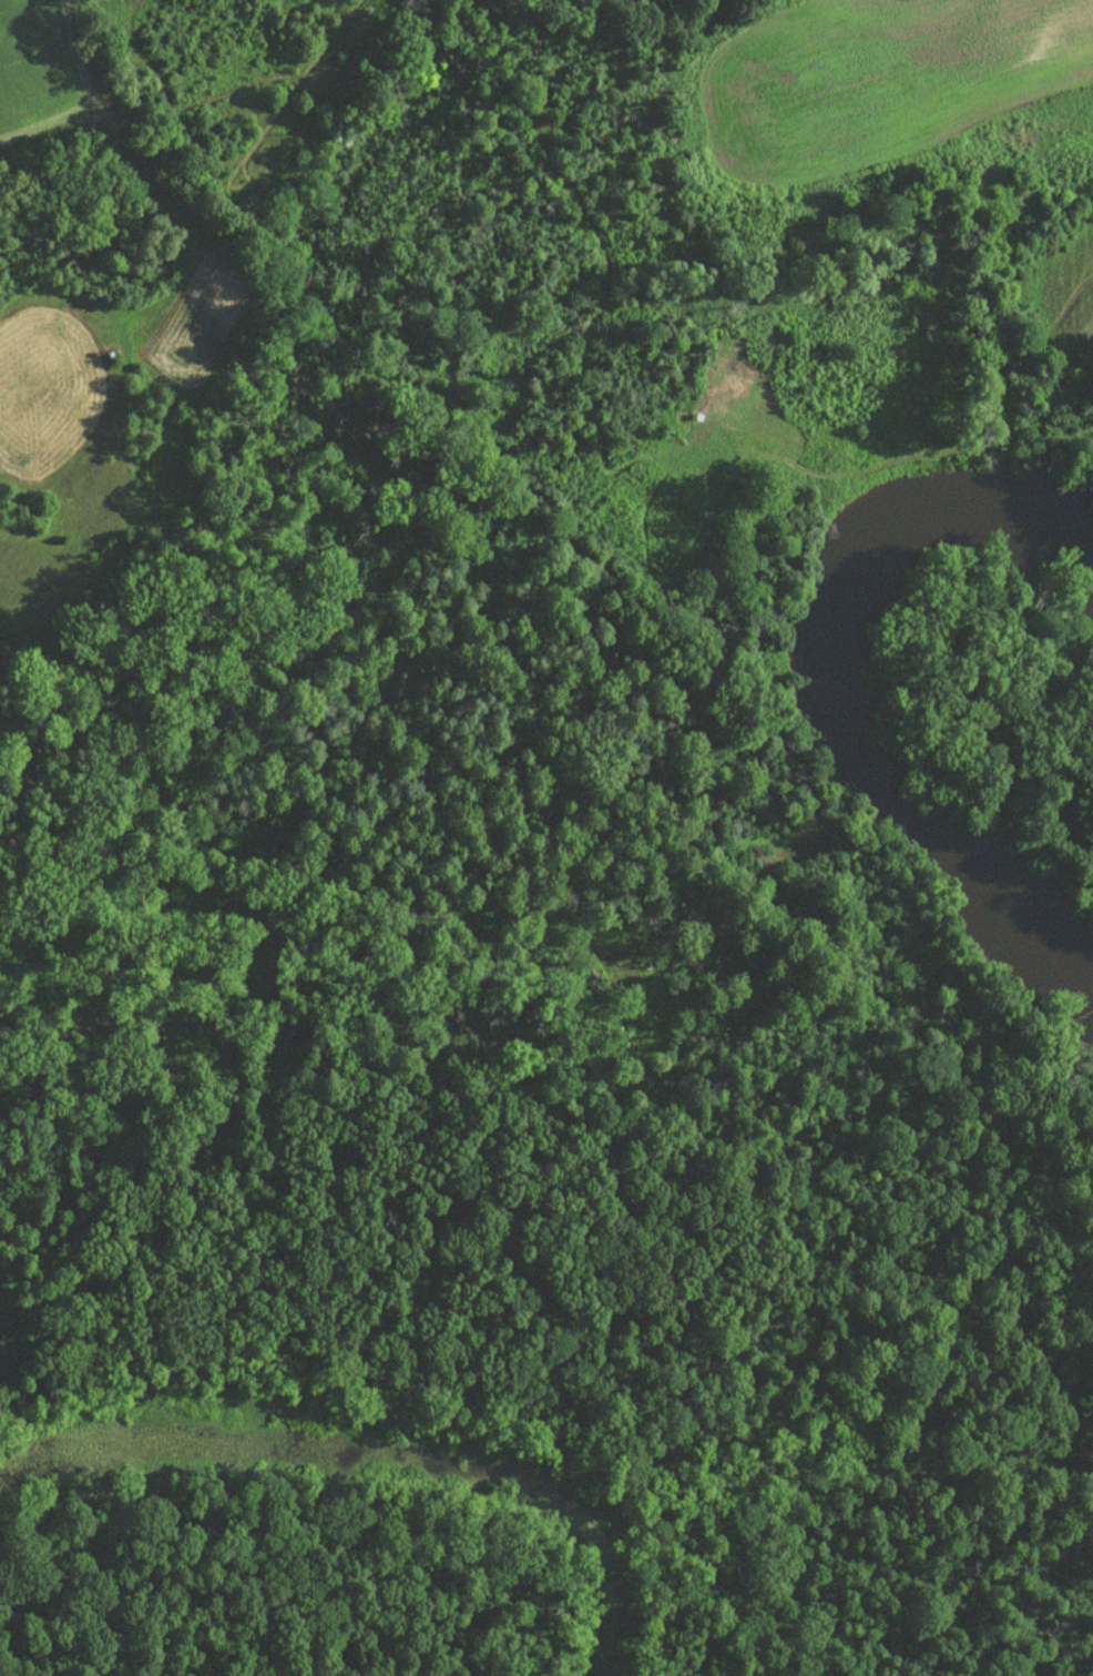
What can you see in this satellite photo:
river: (832, 687)

